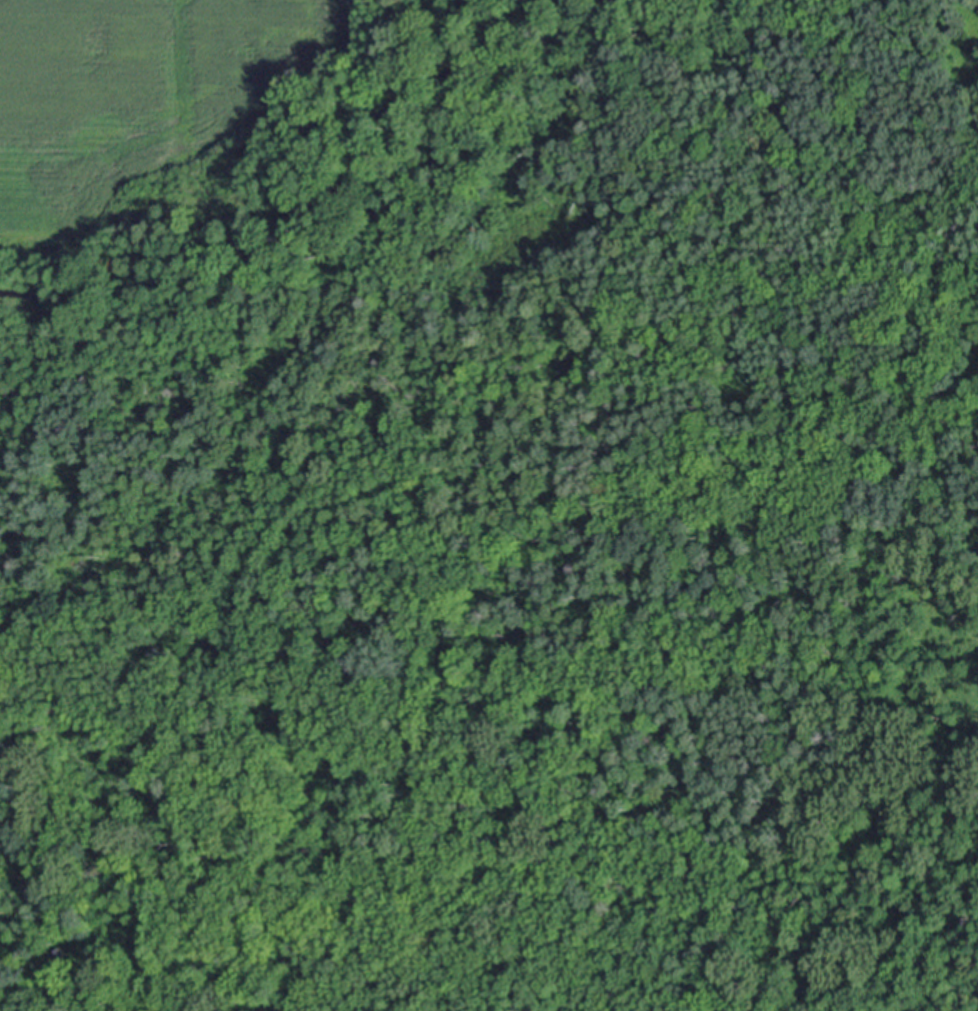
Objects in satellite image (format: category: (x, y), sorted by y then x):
river: (323, 234)

